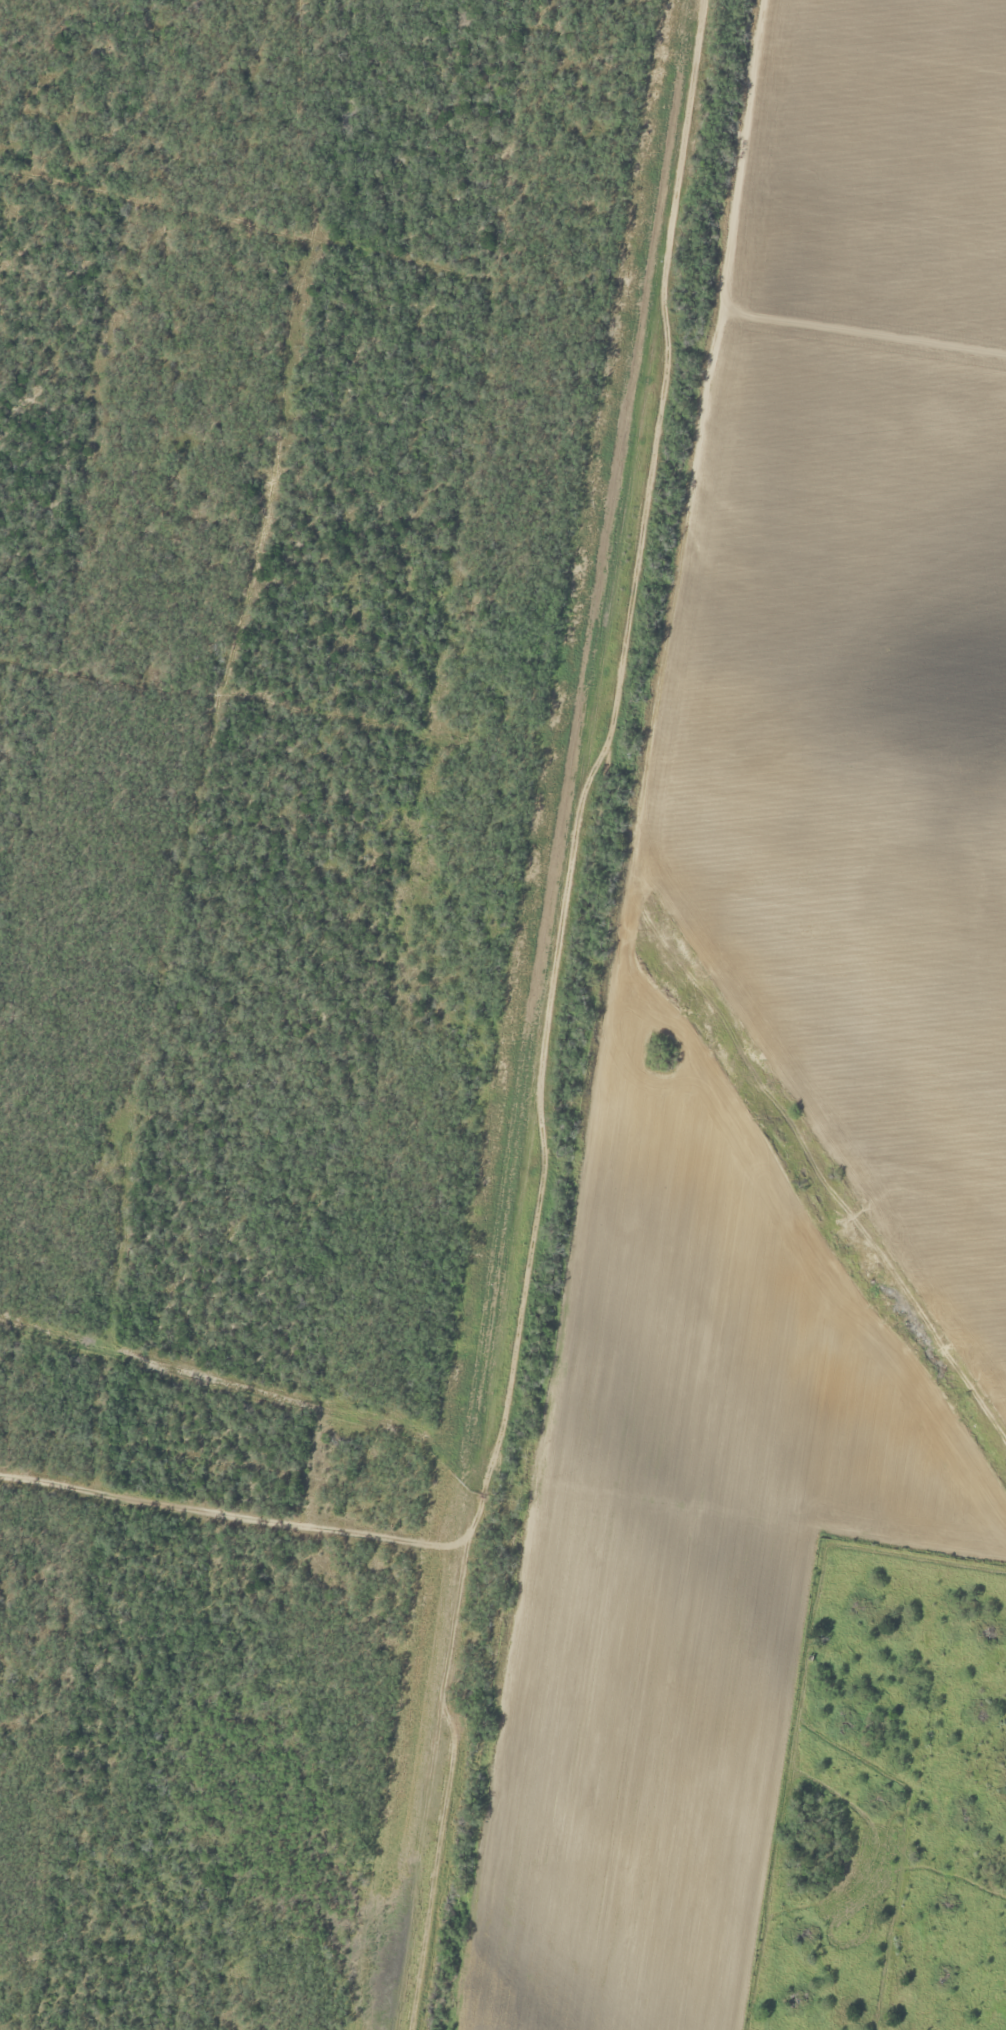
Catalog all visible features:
road: (506, 1014)
railway: (568, 1014)
road: (216, 1514)

